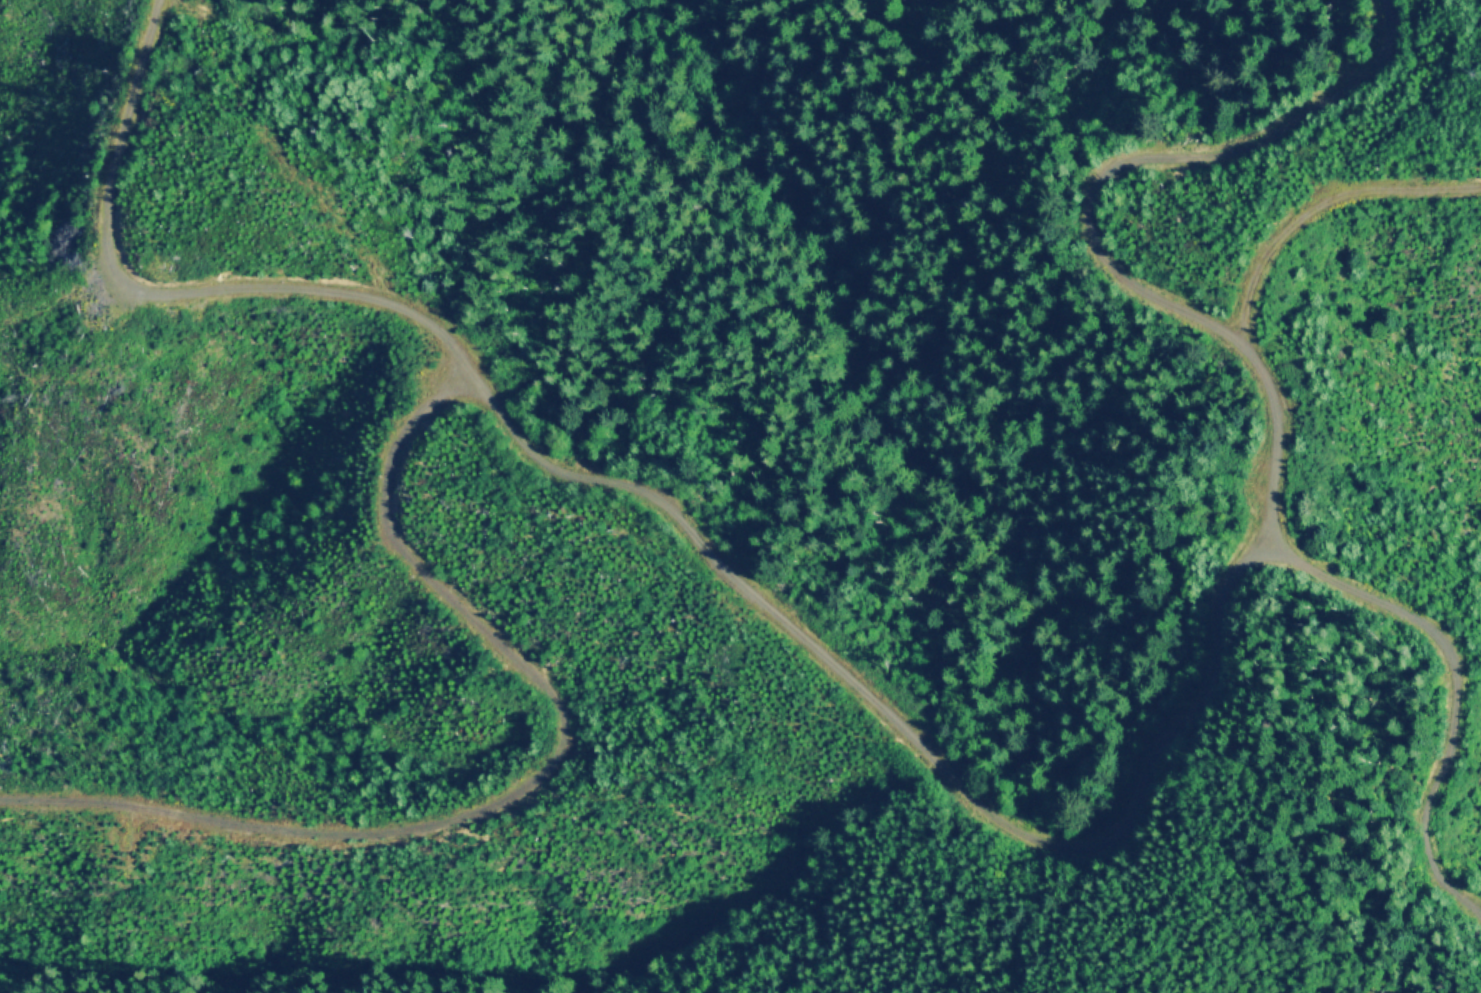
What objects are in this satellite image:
road: (1198, 321)
road: (679, 520)
road: (420, 586)
road: (1438, 819)
road: (438, 824)

